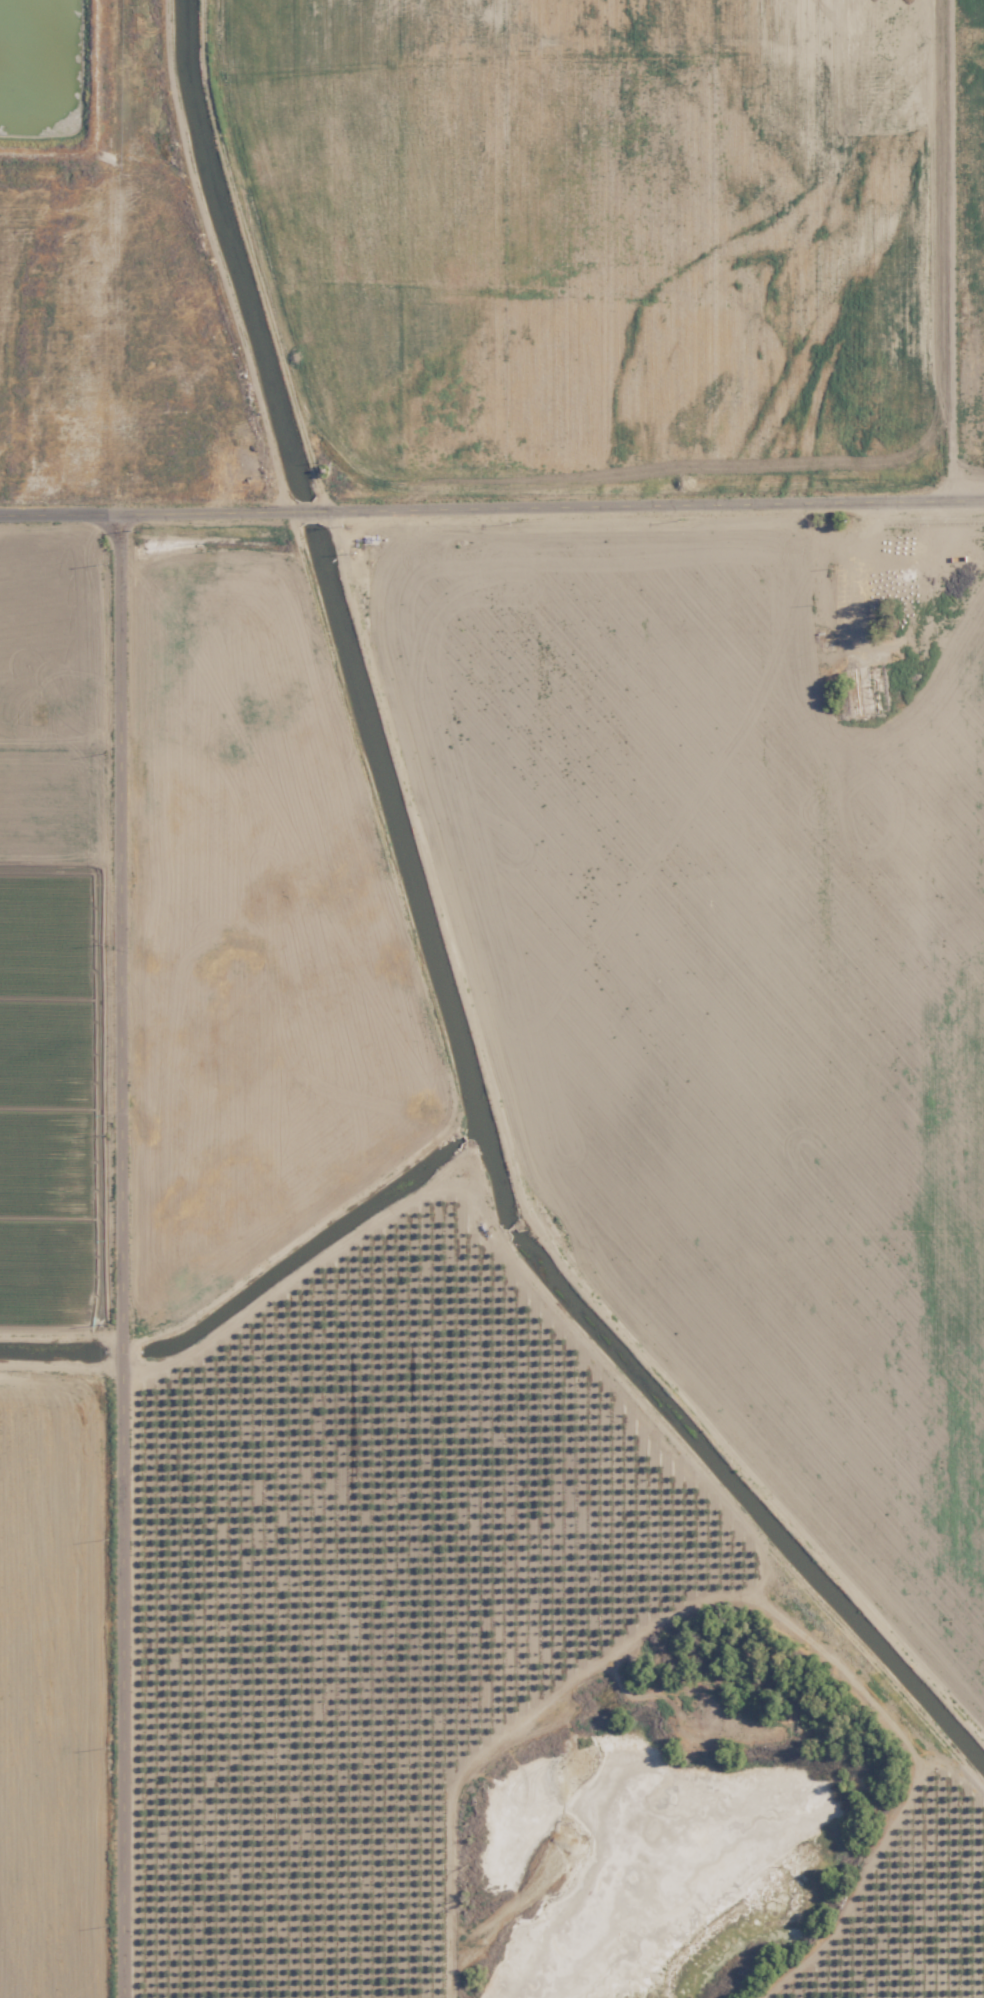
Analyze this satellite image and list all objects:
road: (491, 506)
road: (127, 998)

